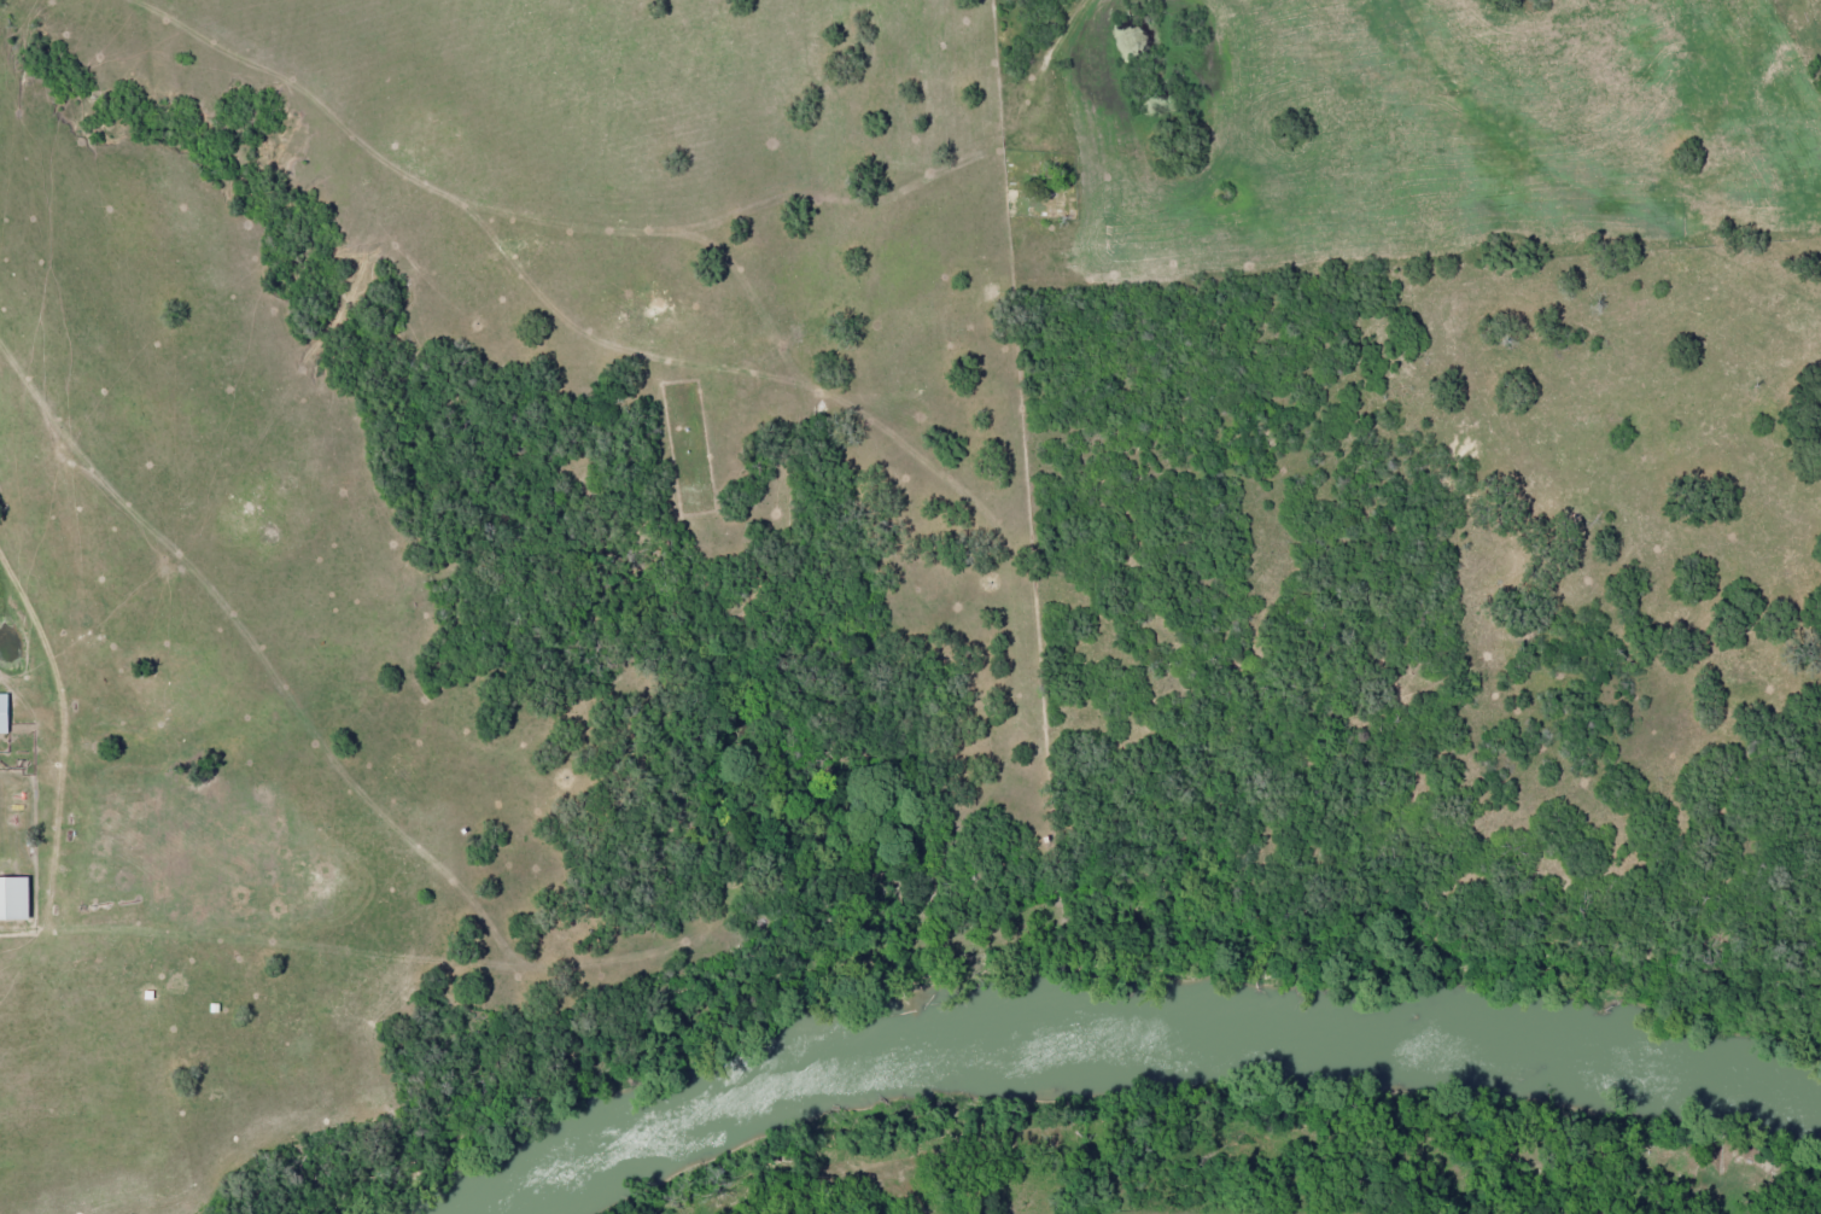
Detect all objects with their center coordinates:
road: (974, 176)
park: (1037, 185)
building: (1, 712)
building: (12, 898)
river: (1142, 1032)

